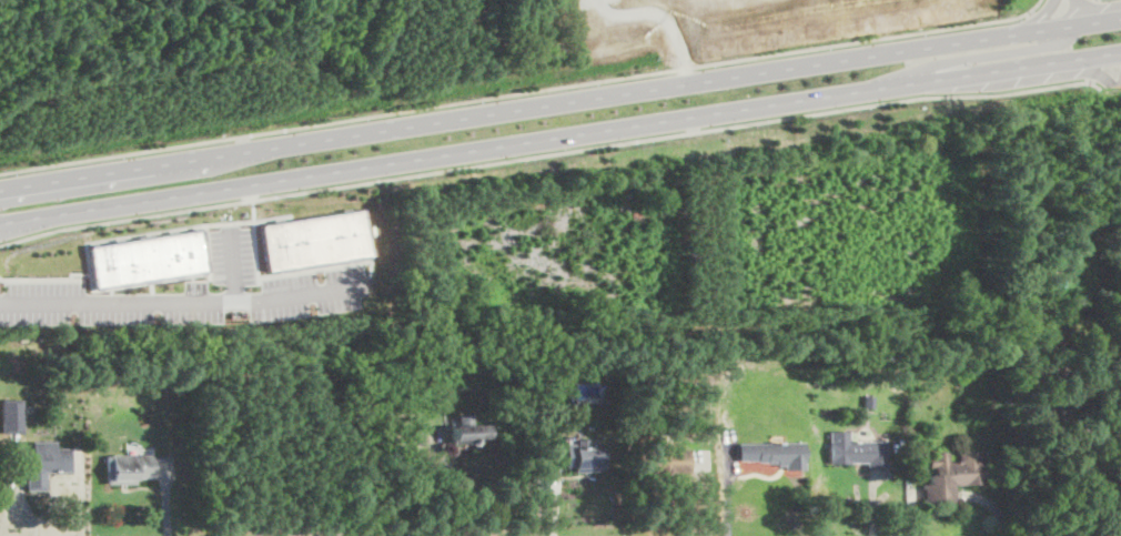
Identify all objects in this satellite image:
road: (1050, 3)
road: (950, 65)
road: (1105, 79)
road: (522, 91)
road: (560, 101)
road: (560, 136)
road: (549, 152)
road: (188, 225)
building: (313, 239)
road: (210, 251)
building: (148, 256)
road: (235, 265)
road: (276, 274)
road: (41, 277)
road: (181, 302)
building: (11, 414)
road: (1079, 418)
building: (473, 427)
building: (855, 448)
building: (770, 452)
building: (580, 453)
building: (665, 458)
building: (46, 461)
building: (129, 466)
building: (951, 472)
road: (727, 484)
road: (461, 486)

